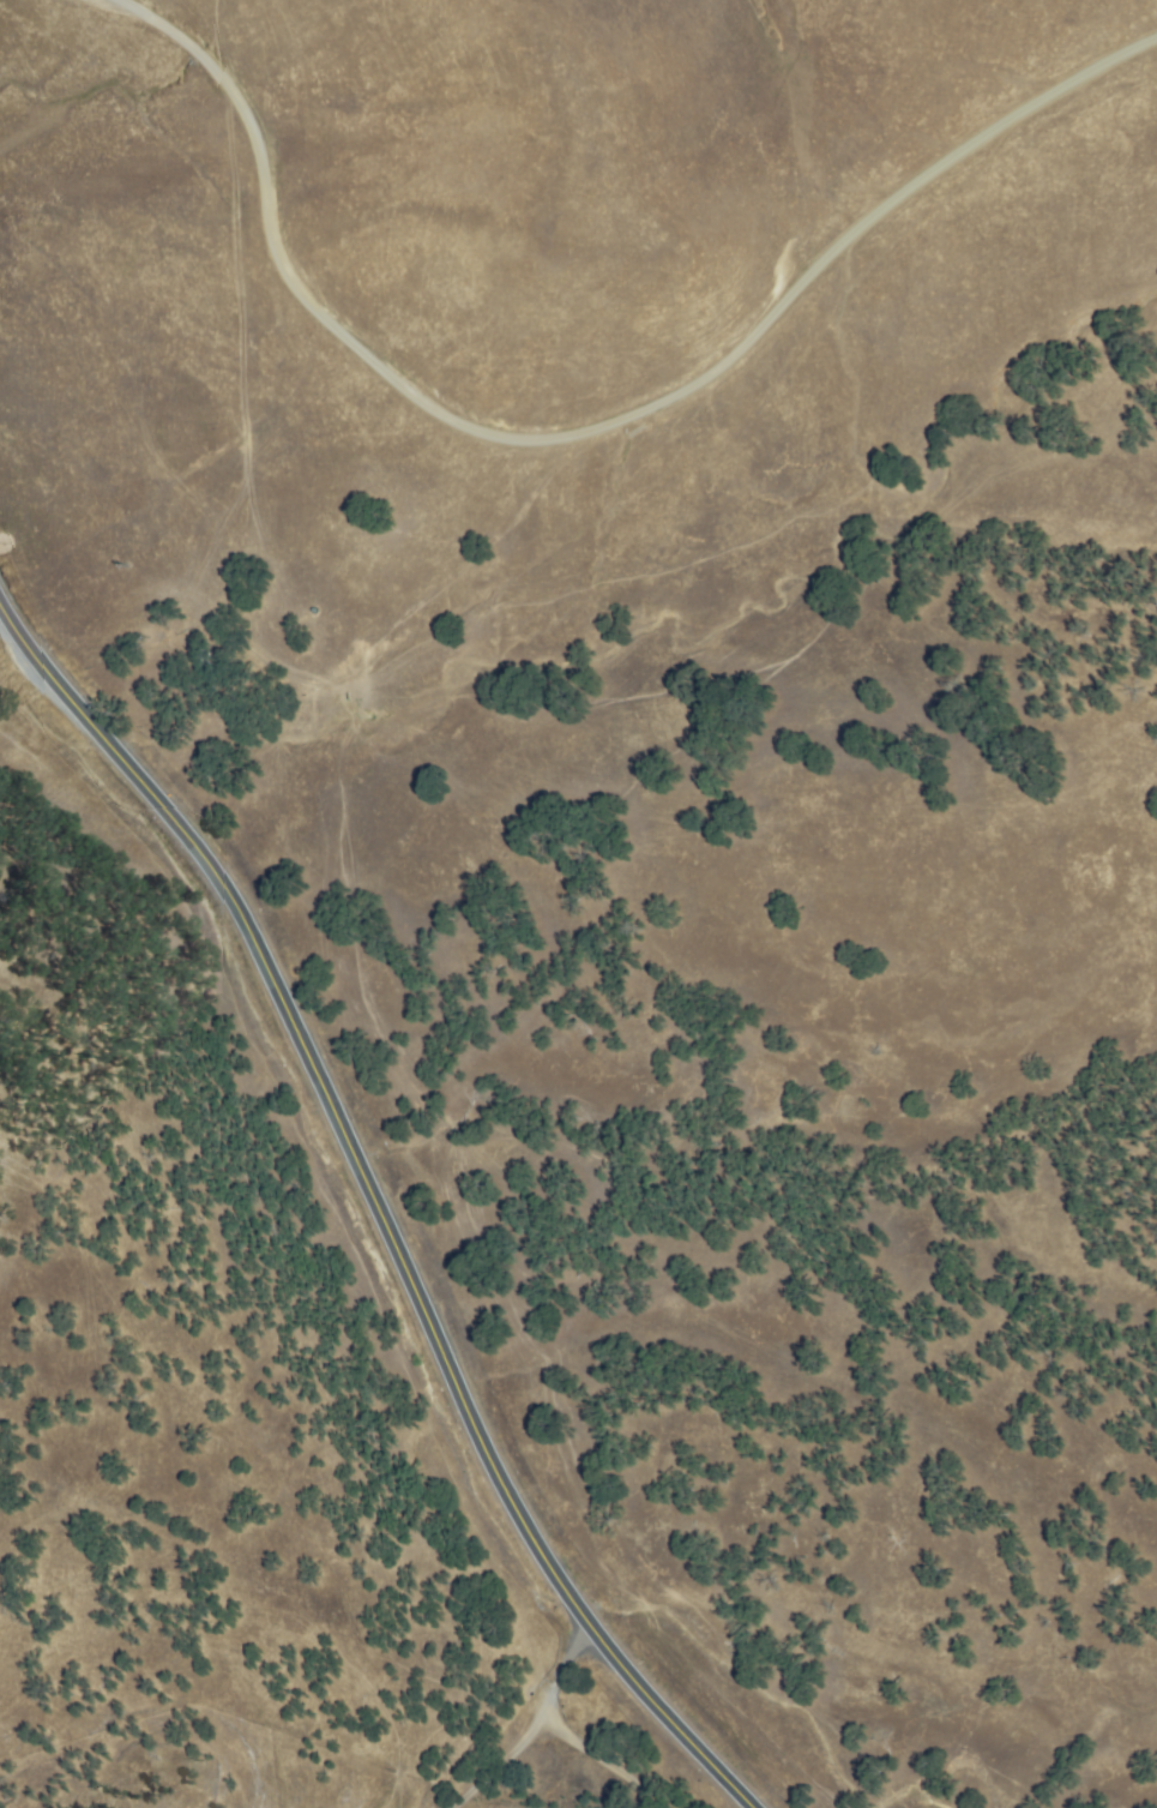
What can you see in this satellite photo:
road: (587, 433)
building: (205, 662)
road: (375, 1206)
road: (530, 1728)
road: (587, 1761)

